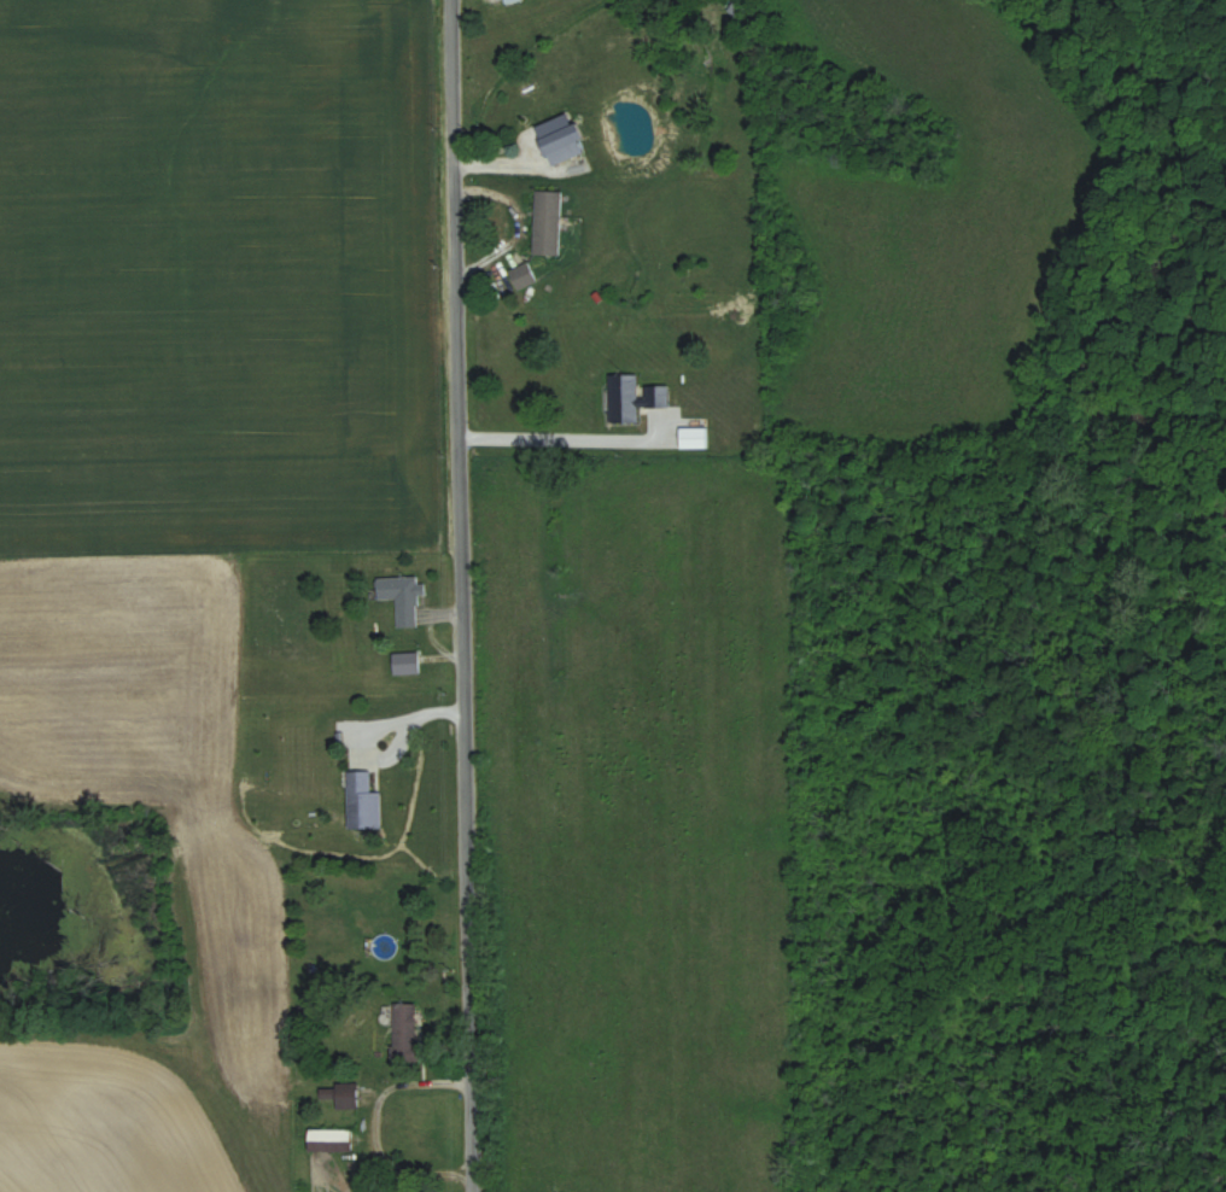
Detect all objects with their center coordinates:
building: (564, 134)
building: (548, 222)
building: (514, 280)
building: (632, 398)
road: (564, 431)
building: (742, 434)
building: (693, 437)
road: (461, 595)
building: (402, 596)
building: (363, 800)
building: (384, 946)
building: (404, 1033)
road: (416, 1082)
building: (341, 1095)
building: (329, 1140)

